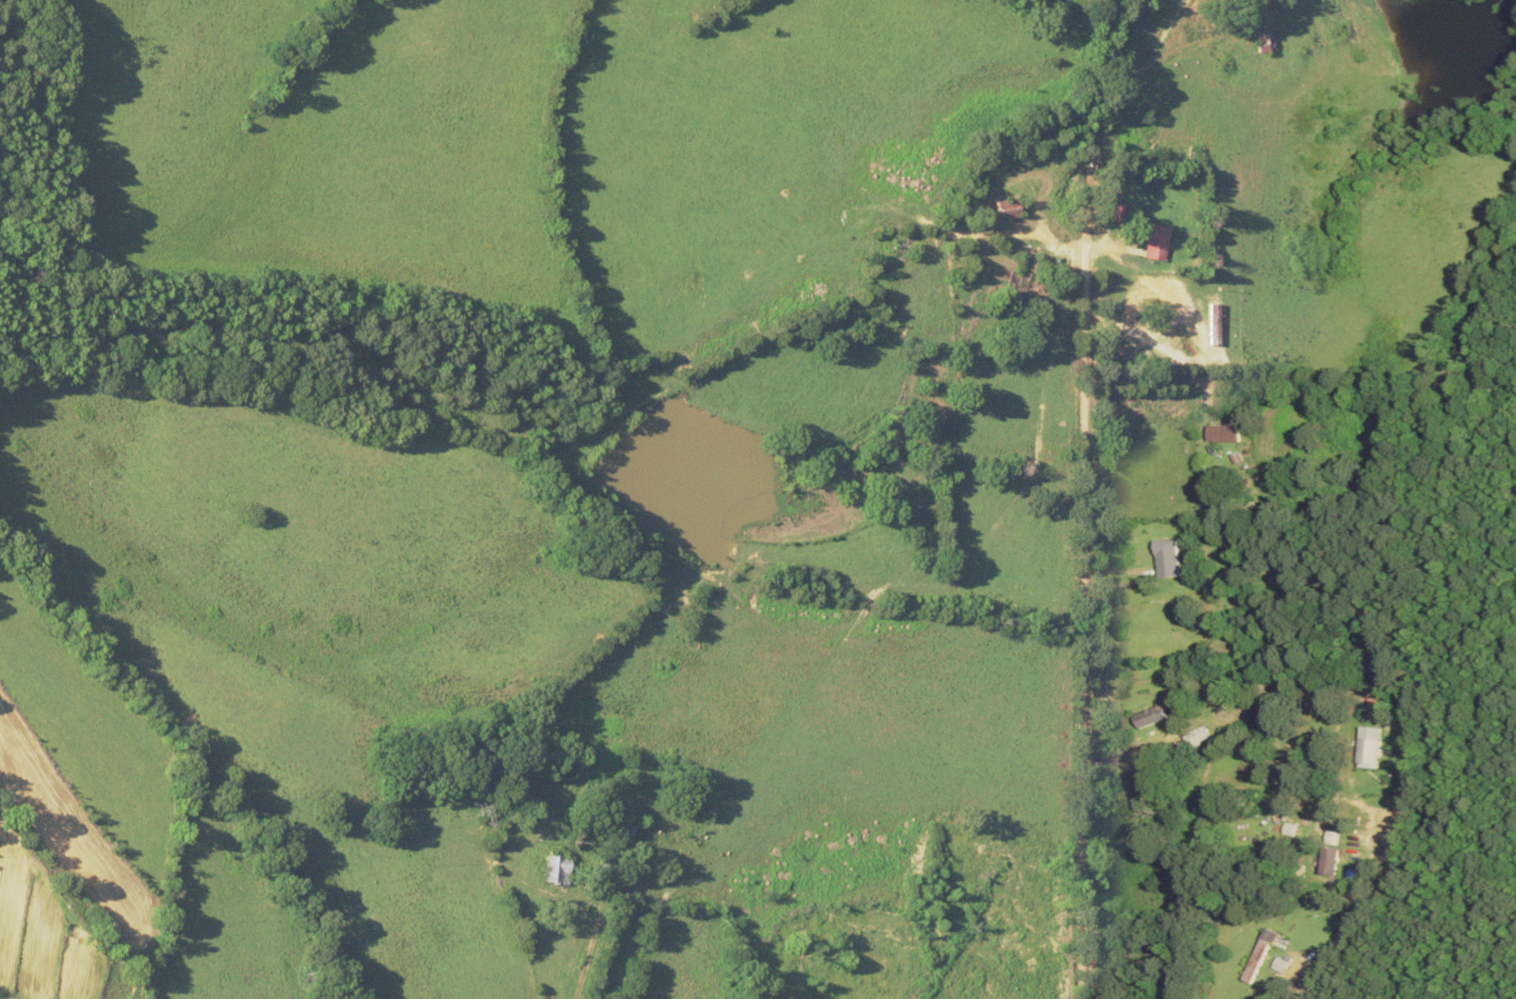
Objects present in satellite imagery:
building: (1260, 38)
building: (1005, 209)
building: (1155, 242)
building: (1227, 431)
road: (1248, 444)
road: (1124, 498)
building: (1165, 558)
building: (1378, 672)
building: (1150, 715)
building: (1193, 737)
building: (1365, 746)
building: (624, 826)
building: (1326, 861)
building: (554, 869)
road: (1380, 870)
road: (594, 936)
building: (1259, 955)

